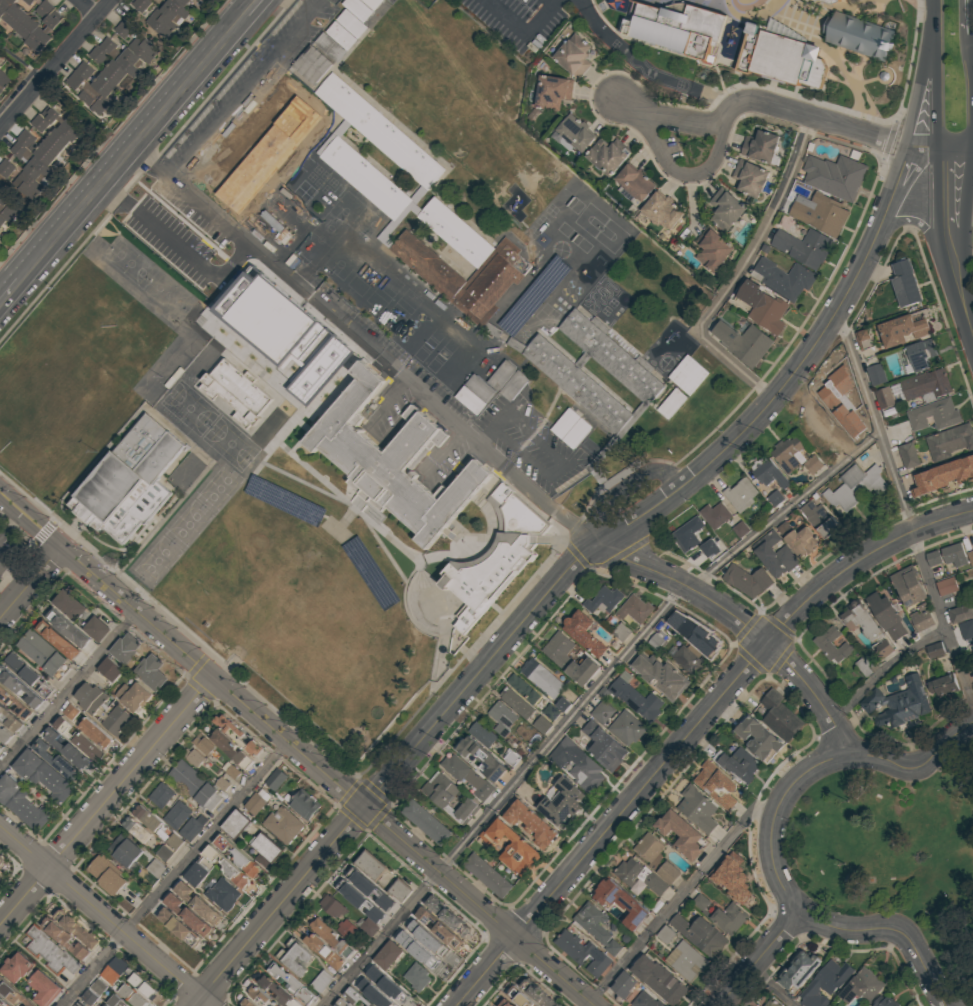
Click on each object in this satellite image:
building: (825, 0)
building: (831, 1)
building: (883, 1)
building: (184, 2)
road: (550, 2)
building: (5, 7)
road: (86, 7)
road: (256, 8)
building: (174, 9)
building: (17, 13)
building: (155, 18)
building: (35, 19)
building: (346, 27)
building: (674, 32)
road: (524, 33)
building: (46, 34)
building: (859, 37)
building: (572, 55)
parking lot: (661, 57)
building: (781, 58)
road: (53, 64)
building: (312, 64)
building: (110, 67)
building: (3, 80)
road: (246, 88)
building: (551, 92)
road: (916, 96)
road: (788, 110)
building: (62, 123)
building: (50, 132)
building: (575, 132)
building: (759, 145)
building: (398, 146)
road: (937, 147)
road: (135, 148)
building: (43, 152)
building: (605, 156)
building: (32, 161)
road: (682, 174)
building: (833, 176)
building: (749, 177)
building: (24, 182)
building: (634, 182)
building: (7, 207)
building: (725, 209)
building: (661, 210)
building: (820, 214)
building: (2, 221)
road: (913, 223)
road: (964, 228)
building: (0, 237)
building: (803, 246)
building: (712, 248)
building: (495, 258)
park: (132, 263)
road: (741, 272)
building: (783, 278)
building: (904, 283)
road: (9, 290)
park: (170, 295)
building: (762, 307)
road: (967, 311)
building: (905, 327)
building: (864, 338)
building: (742, 342)
road: (366, 348)
building: (922, 353)
building: (611, 354)
building: (877, 373)
building: (508, 379)
building: (576, 382)
building: (683, 384)
building: (236, 391)
building: (476, 394)
building: (885, 397)
building: (934, 415)
building: (571, 427)
building: (950, 440)
building: (909, 454)
building: (795, 456)
building: (393, 461)
building: (770, 473)
building: (943, 476)
building: (130, 480)
building: (853, 488)
road: (622, 489)
building: (739, 494)
building: (776, 497)
road: (666, 498)
road: (905, 512)
building: (716, 514)
road: (71, 516)
building: (818, 518)
building: (741, 528)
building: (686, 534)
building: (797, 539)
building: (709, 547)
building: (773, 554)
building: (955, 554)
building: (970, 556)
building: (934, 557)
building: (496, 558)
road: (123, 568)
road: (14, 572)
building: (746, 580)
road: (31, 582)
building: (947, 585)
building: (909, 586)
building: (603, 599)
building: (70, 603)
building: (635, 608)
building: (961, 612)
building: (886, 615)
building: (678, 617)
building: (923, 617)
road: (746, 624)
building: (67, 626)
building: (867, 626)
building: (97, 627)
building: (967, 628)
building: (623, 631)
building: (582, 633)
building: (59, 639)
building: (658, 639)
building: (703, 639)
building: (833, 644)
building: (127, 647)
building: (936, 649)
building: (45, 654)
building: (690, 658)
building: (559, 659)
building: (112, 668)
road: (886, 670)
building: (152, 671)
building: (28, 673)
building: (659, 677)
building: (541, 678)
building: (943, 685)
building: (20, 686)
building: (524, 688)
road: (69, 692)
building: (133, 695)
building: (91, 697)
road: (722, 697)
building: (635, 700)
building: (20, 702)
building: (518, 703)
road: (586, 703)
building: (896, 704)
building: (71, 711)
building: (603, 711)
building: (779, 716)
building: (501, 718)
building: (11, 719)
building: (116, 720)
building: (542, 724)
building: (628, 727)
building: (97, 733)
building: (4, 734)
building: (237, 735)
building: (490, 736)
building: (758, 737)
building: (79, 738)
road: (948, 743)
building: (205, 744)
building: (603, 746)
building: (1, 747)
road: (296, 748)
building: (70, 749)
building: (231, 750)
building: (193, 756)
building: (513, 757)
building: (56, 759)
building: (479, 759)
building: (737, 763)
building: (576, 765)
building: (232, 770)
building: (44, 774)
building: (467, 777)
building: (276, 778)
building: (191, 782)
building: (223, 783)
road: (794, 783)
building: (715, 785)
building: (160, 796)
building: (449, 796)
road: (106, 799)
building: (22, 802)
building: (256, 803)
building: (561, 803)
building: (305, 804)
building: (696, 808)
building: (176, 815)
building: (147, 817)
building: (234, 824)
building: (285, 824)
building: (429, 824)
building: (531, 824)
building: (137, 828)
building: (191, 828)
building: (680, 834)
building: (175, 841)
building: (509, 846)
building: (266, 848)
building: (126, 850)
building: (165, 852)
park: (893, 852)
building: (238, 857)
building: (654, 857)
building: (1, 860)
building: (156, 867)
building: (370, 867)
building: (227, 869)
road: (177, 874)
building: (105, 875)
building: (195, 875)
building: (487, 875)
building: (639, 876)
building: (730, 876)
building: (400, 891)
building: (222, 894)
building: (365, 900)
road: (678, 901)
building: (702, 901)
building: (619, 902)
building: (197, 904)
road: (277, 904)
building: (331, 907)
road: (103, 915)
building: (187, 916)
building: (448, 917)
building: (730, 917)
building: (595, 926)
building: (368, 927)
building: (179, 928)
building: (76, 929)
building: (439, 929)
building: (346, 930)
road: (894, 930)
building: (408, 932)
building: (666, 934)
building: (327, 935)
building: (699, 935)
building: (64, 937)
building: (573, 947)
building: (51, 951)
building: (323, 952)
building: (386, 955)
building: (434, 956)
road: (761, 959)
building: (289, 960)
building: (687, 960)
building: (597, 965)
building: (15, 968)
building: (112, 971)
building: (797, 971)
road: (487, 972)
building: (416, 977)
building: (658, 977)
building: (139, 983)
building: (322, 983)
building: (387, 983)
building: (824, 984)
building: (293, 985)
building: (623, 985)
building: (863, 986)
building: (43, 989)
road: (770, 989)
building: (12, 993)
building: (92, 993)
building: (279, 993)
building: (376, 993)
building: (128, 994)
building: (537, 994)
building: (260, 997)
building: (354, 997)
building: (519, 997)
building: (644, 1000)
building: (887, 1001)
building: (3, 1002)
building: (116, 1002)
building: (245, 1003)
building: (341, 1003)
building: (504, 1003)
building: (771, 1003)
building: (373, 1004)
building: (834, 1005)

